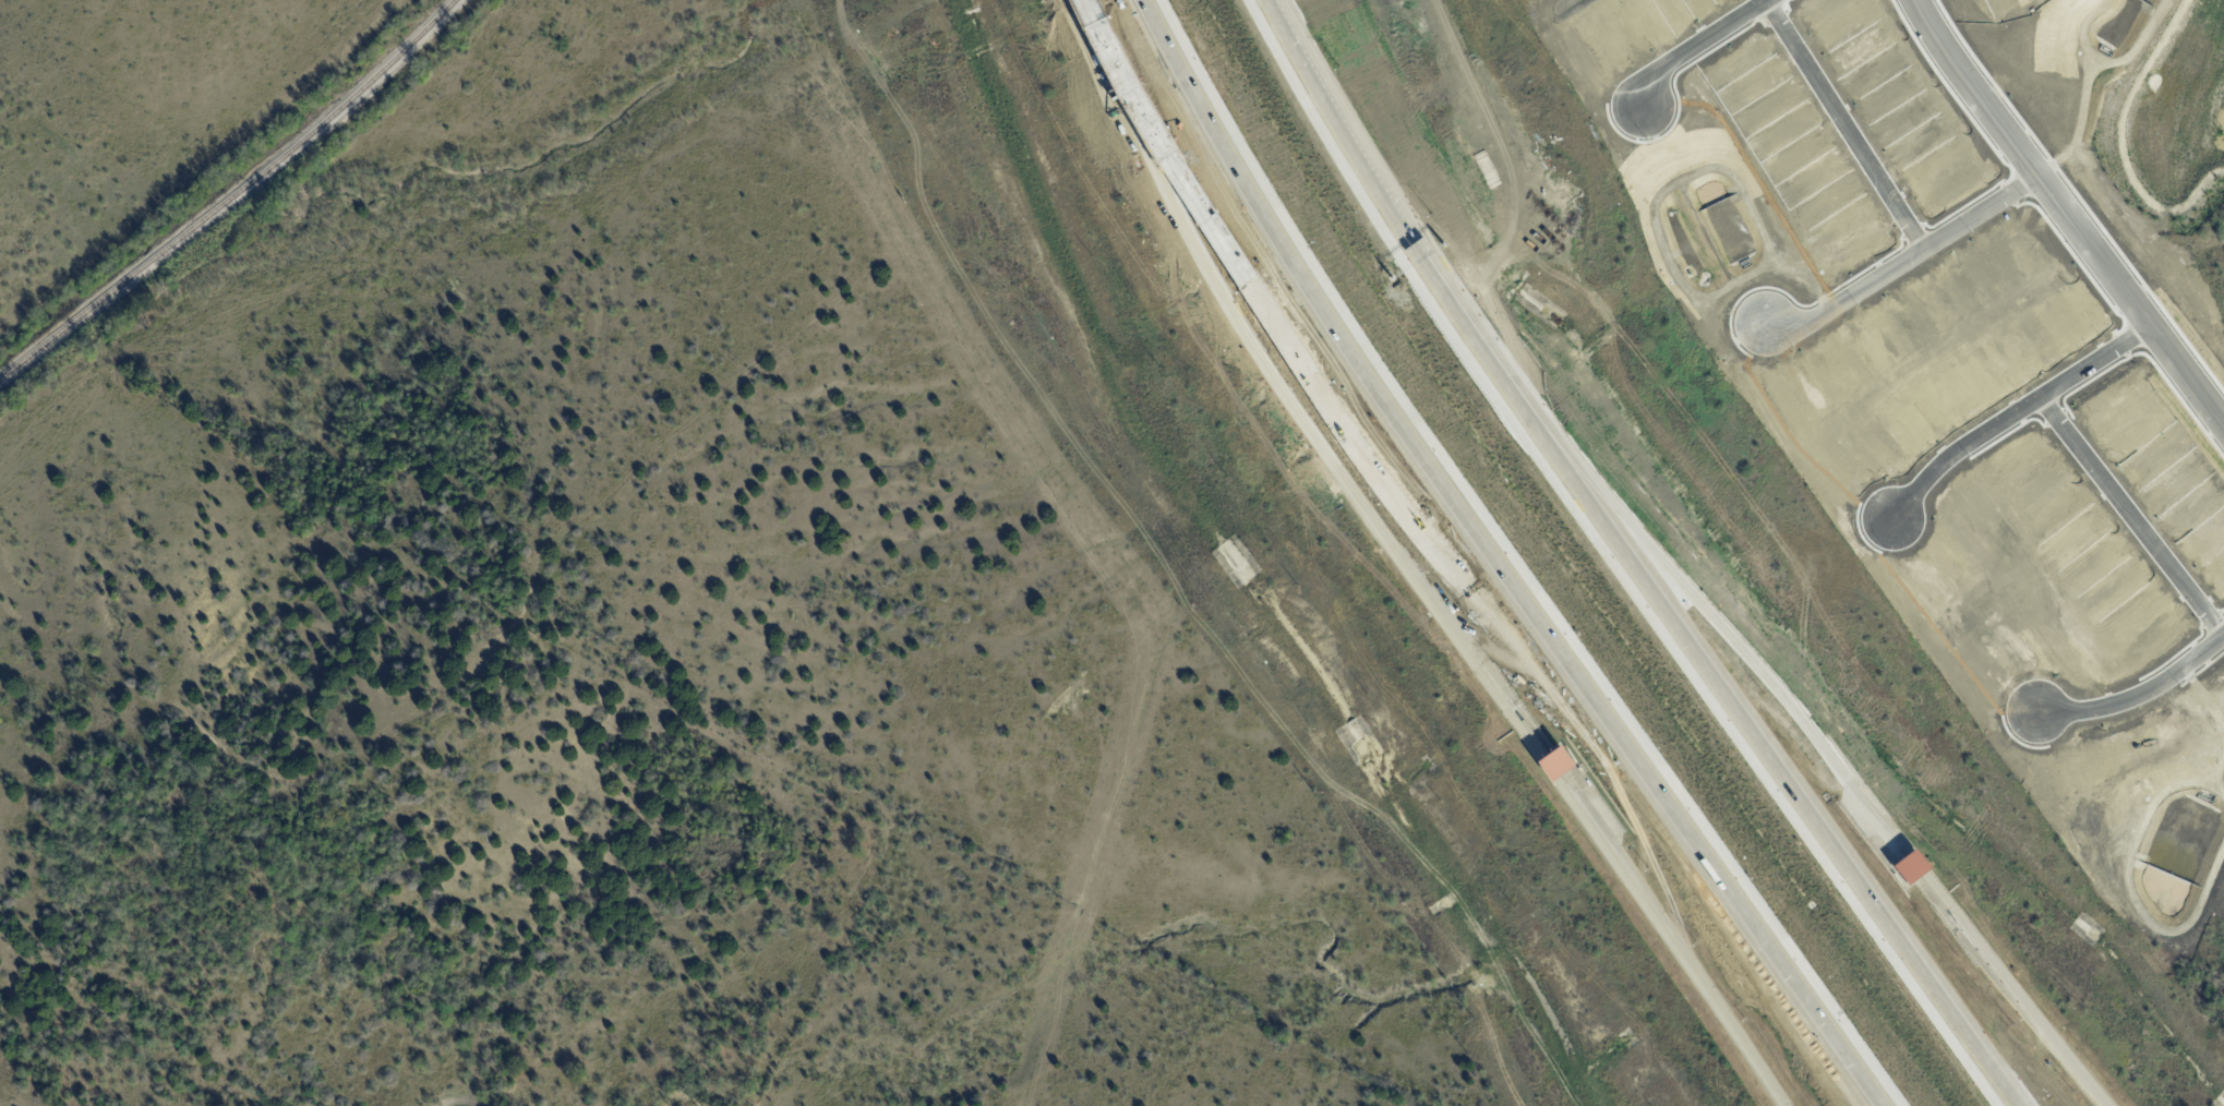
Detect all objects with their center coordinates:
road: (1083, 3)
road: (1697, 49)
road: (1846, 127)
road: (1177, 167)
road: (1375, 184)
railway: (233, 196)
road: (2069, 211)
road: (1906, 261)
road: (1285, 395)
road: (2015, 413)
road: (2132, 516)
road: (1496, 564)
road: (1702, 603)
road: (1477, 605)
road: (2136, 696)
road: (1754, 735)
building: (1553, 764)
road: (1547, 768)
road: (1915, 862)
building: (1909, 866)
road: (1674, 940)
road: (2012, 990)

